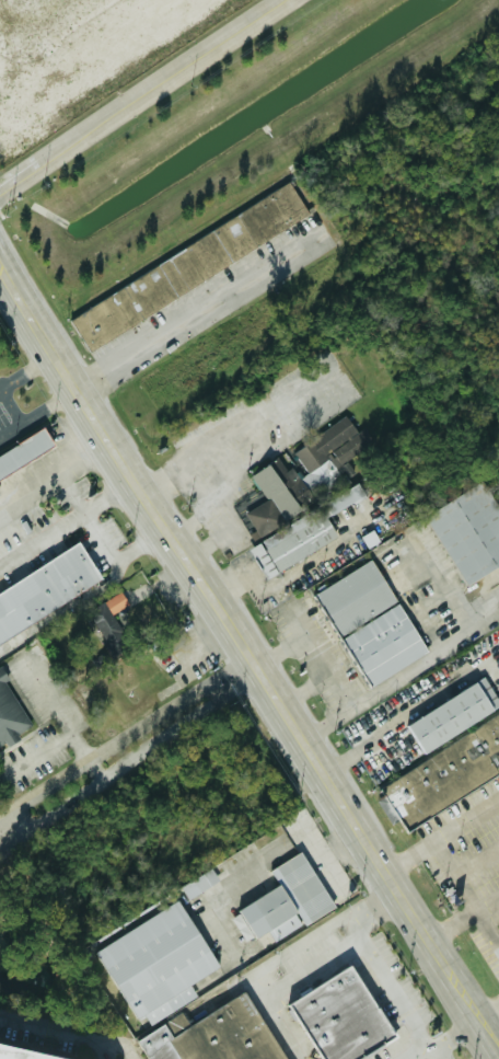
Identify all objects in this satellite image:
road: (277, 1)
road: (33, 20)
road: (140, 93)
building: (189, 265)
road: (195, 312)
road: (30, 371)
road: (11, 405)
road: (263, 410)
road: (40, 411)
building: (25, 452)
road: (248, 464)
road: (55, 469)
building: (301, 475)
road: (193, 484)
building: (0, 497)
road: (90, 514)
road: (69, 519)
building: (468, 530)
building: (301, 534)
road: (235, 590)
building: (47, 591)
road: (91, 592)
building: (109, 615)
building: (369, 623)
road: (240, 638)
road: (395, 682)
building: (11, 712)
road: (60, 714)
building: (449, 715)
road: (384, 726)
road: (128, 747)
road: (36, 753)
building: (443, 771)
road: (443, 839)
road: (327, 855)
road: (336, 873)
road: (457, 878)
road: (233, 880)
building: (201, 883)
building: (282, 898)
road: (479, 909)
road: (463, 916)
building: (150, 958)
road: (294, 965)
road: (397, 993)
building: (333, 1016)
road: (490, 1016)
road: (479, 1021)
road: (455, 1033)
road: (66, 1034)
building: (211, 1035)
road: (490, 1037)
road: (420, 1052)
building: (19, 1055)

